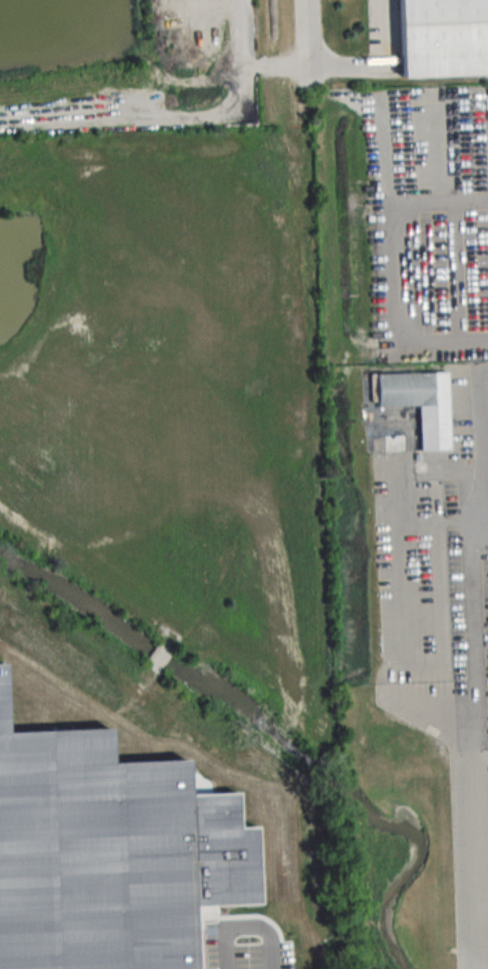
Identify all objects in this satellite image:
road: (389, 21)
road: (306, 31)
building: (444, 37)
road: (446, 199)
road: (454, 211)
road: (406, 214)
road: (448, 339)
building: (421, 403)
road: (484, 439)
road: (439, 460)
road: (423, 663)
road: (429, 703)
road: (476, 734)
road: (485, 961)

